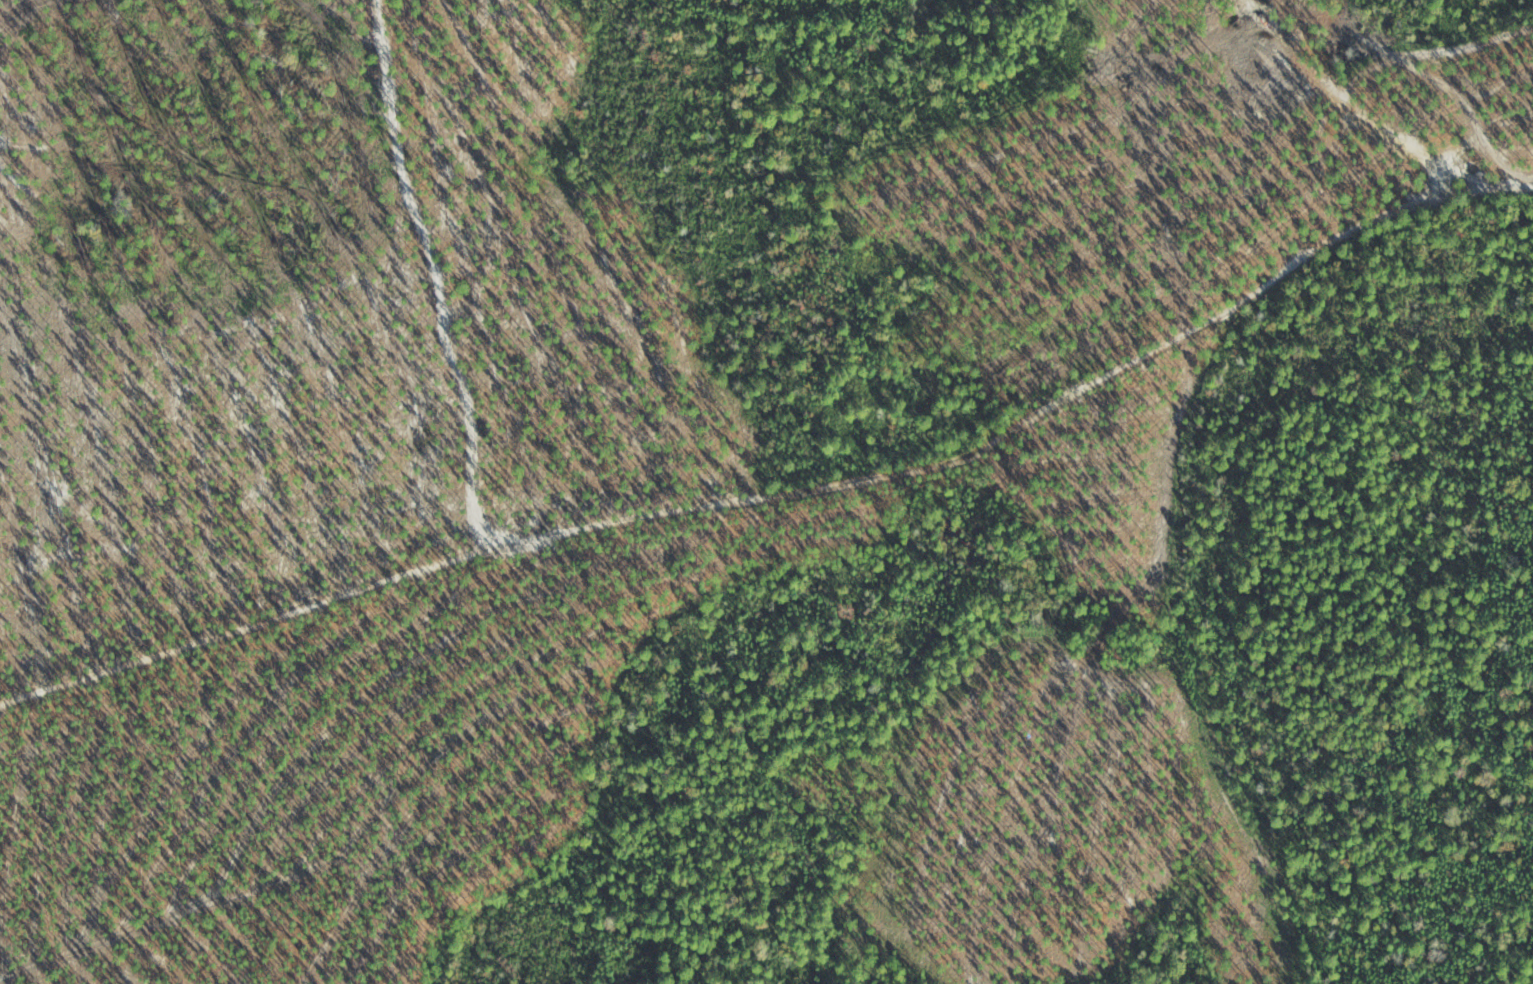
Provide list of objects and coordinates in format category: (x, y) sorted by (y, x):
road: (783, 470)

